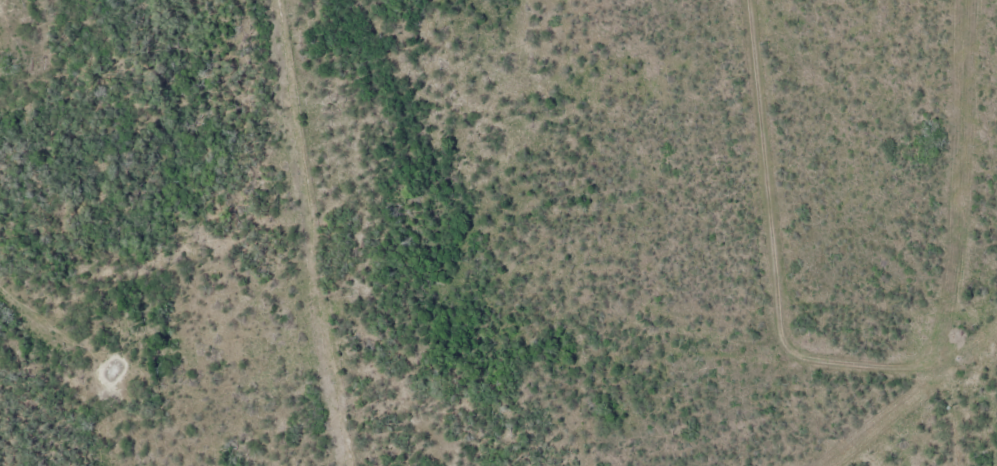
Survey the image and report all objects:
road: (771, 192)

